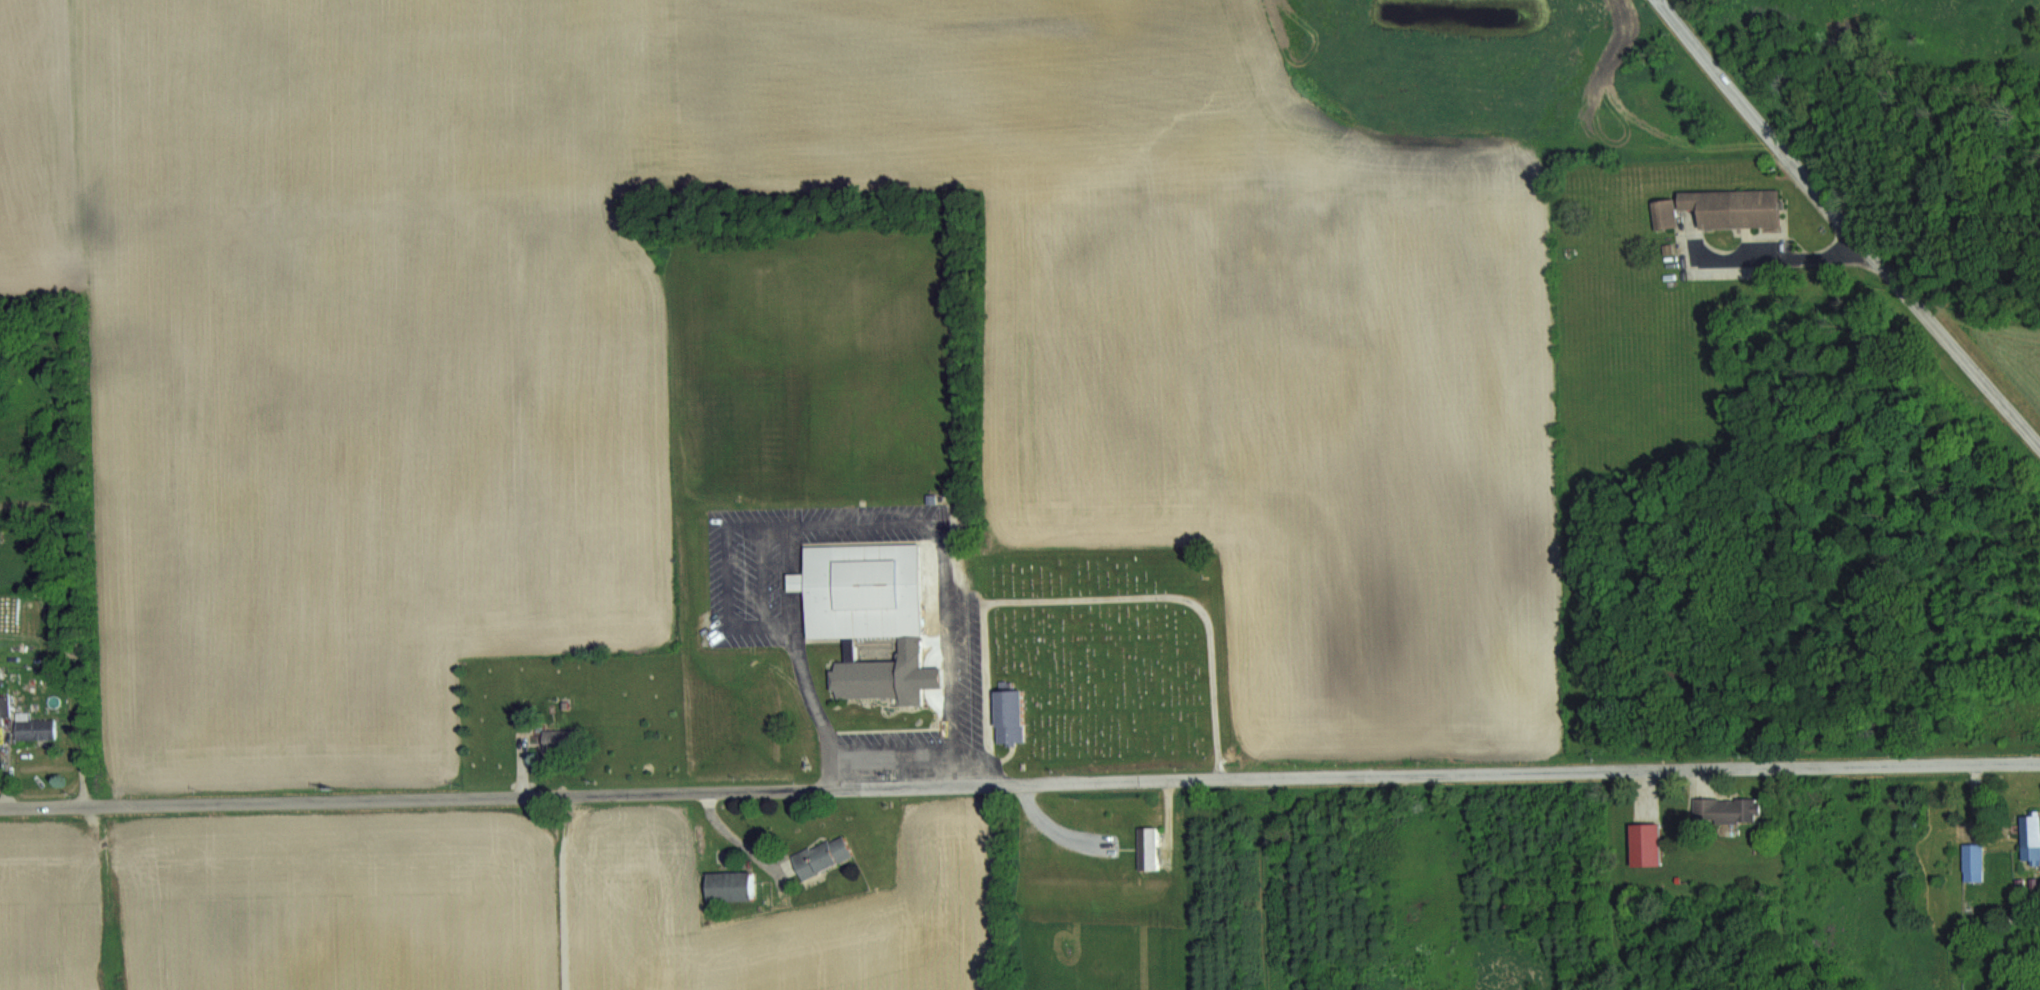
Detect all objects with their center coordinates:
building: (1739, 207)
building: (1667, 214)
road: (1845, 225)
building: (870, 615)
building: (1013, 717)
building: (36, 728)
building: (561, 740)
road: (1019, 783)
building: (1729, 809)
building: (2030, 835)
building: (1650, 844)
building: (1153, 848)
building: (824, 856)
building: (1972, 860)
building: (732, 886)

